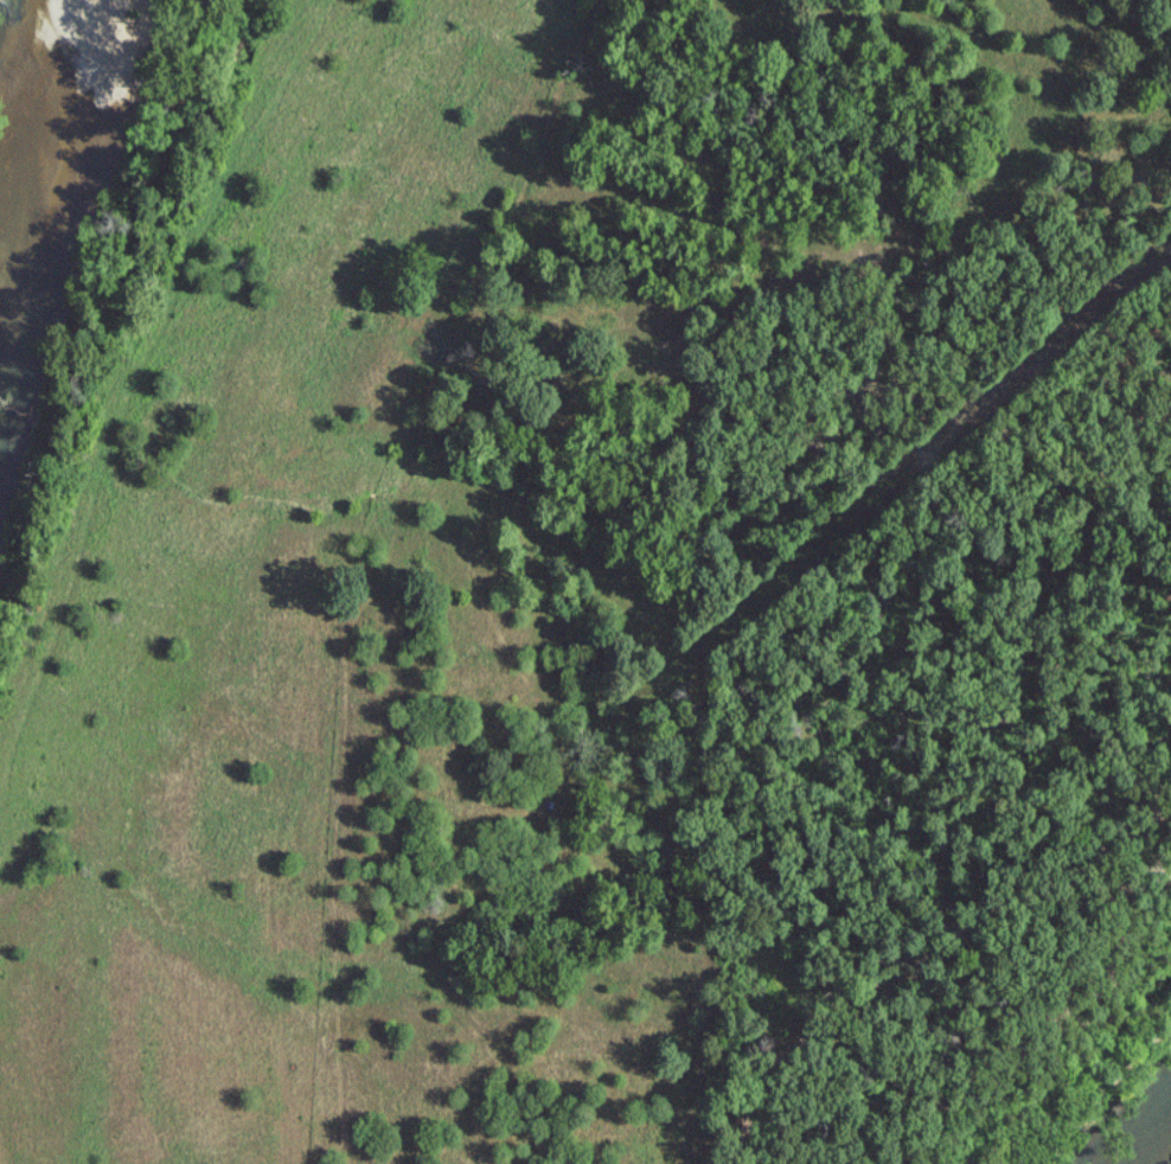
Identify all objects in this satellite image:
river: (71, 146)
road: (456, 268)
river: (1144, 1136)

